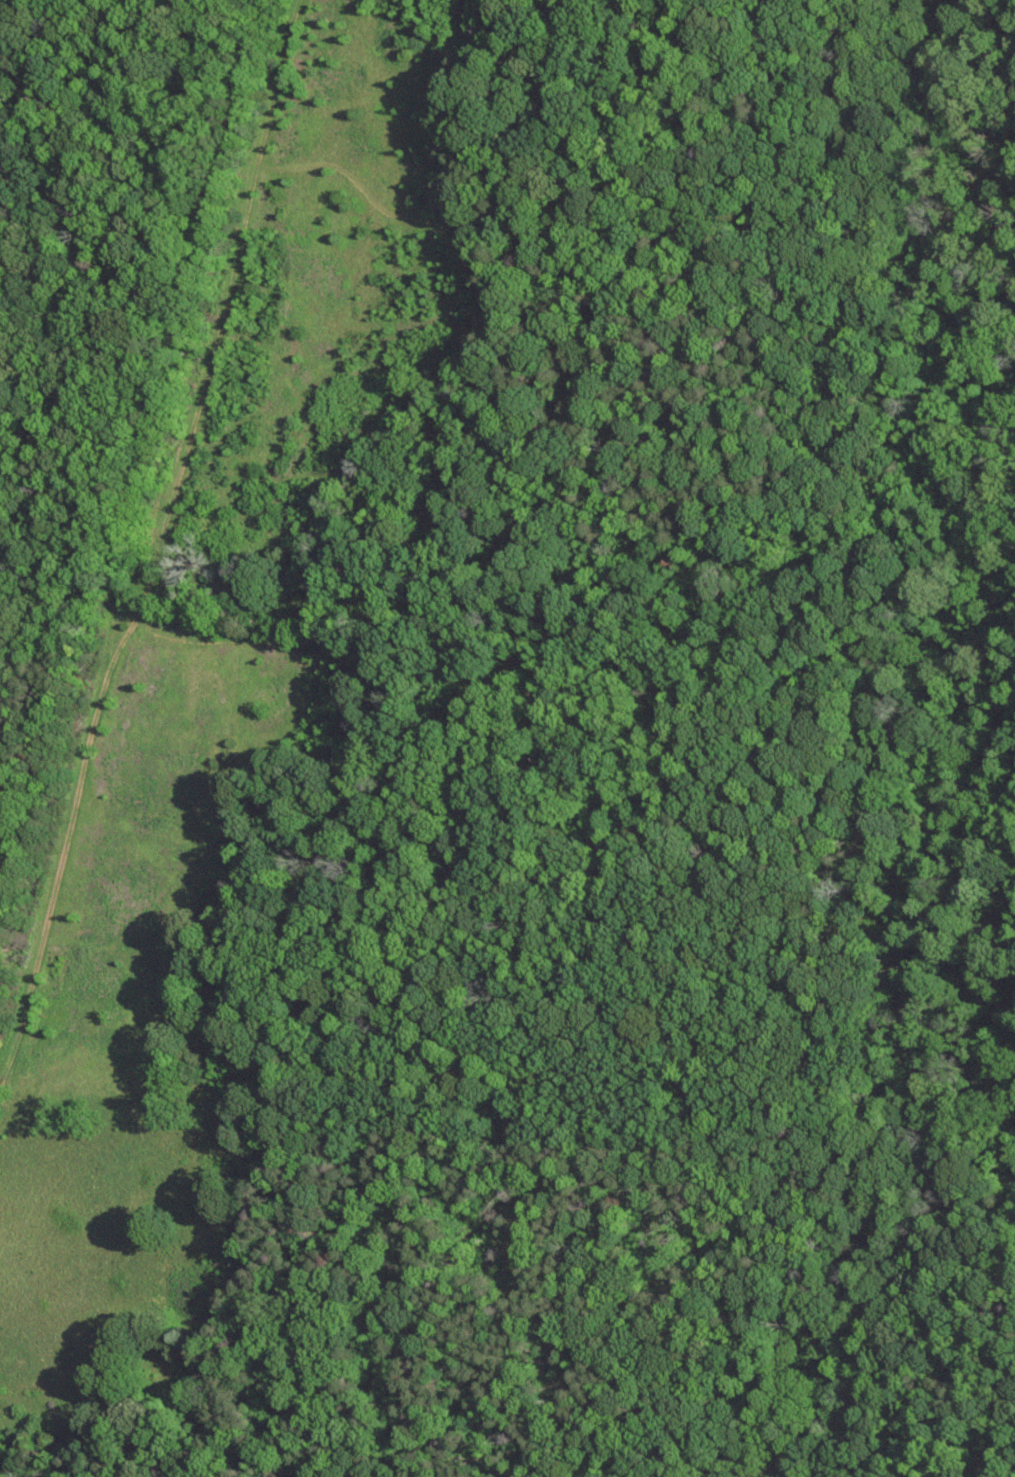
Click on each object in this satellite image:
road: (468, 248)
road: (158, 543)
road: (421, 627)
road: (200, 637)
park: (507, 738)

